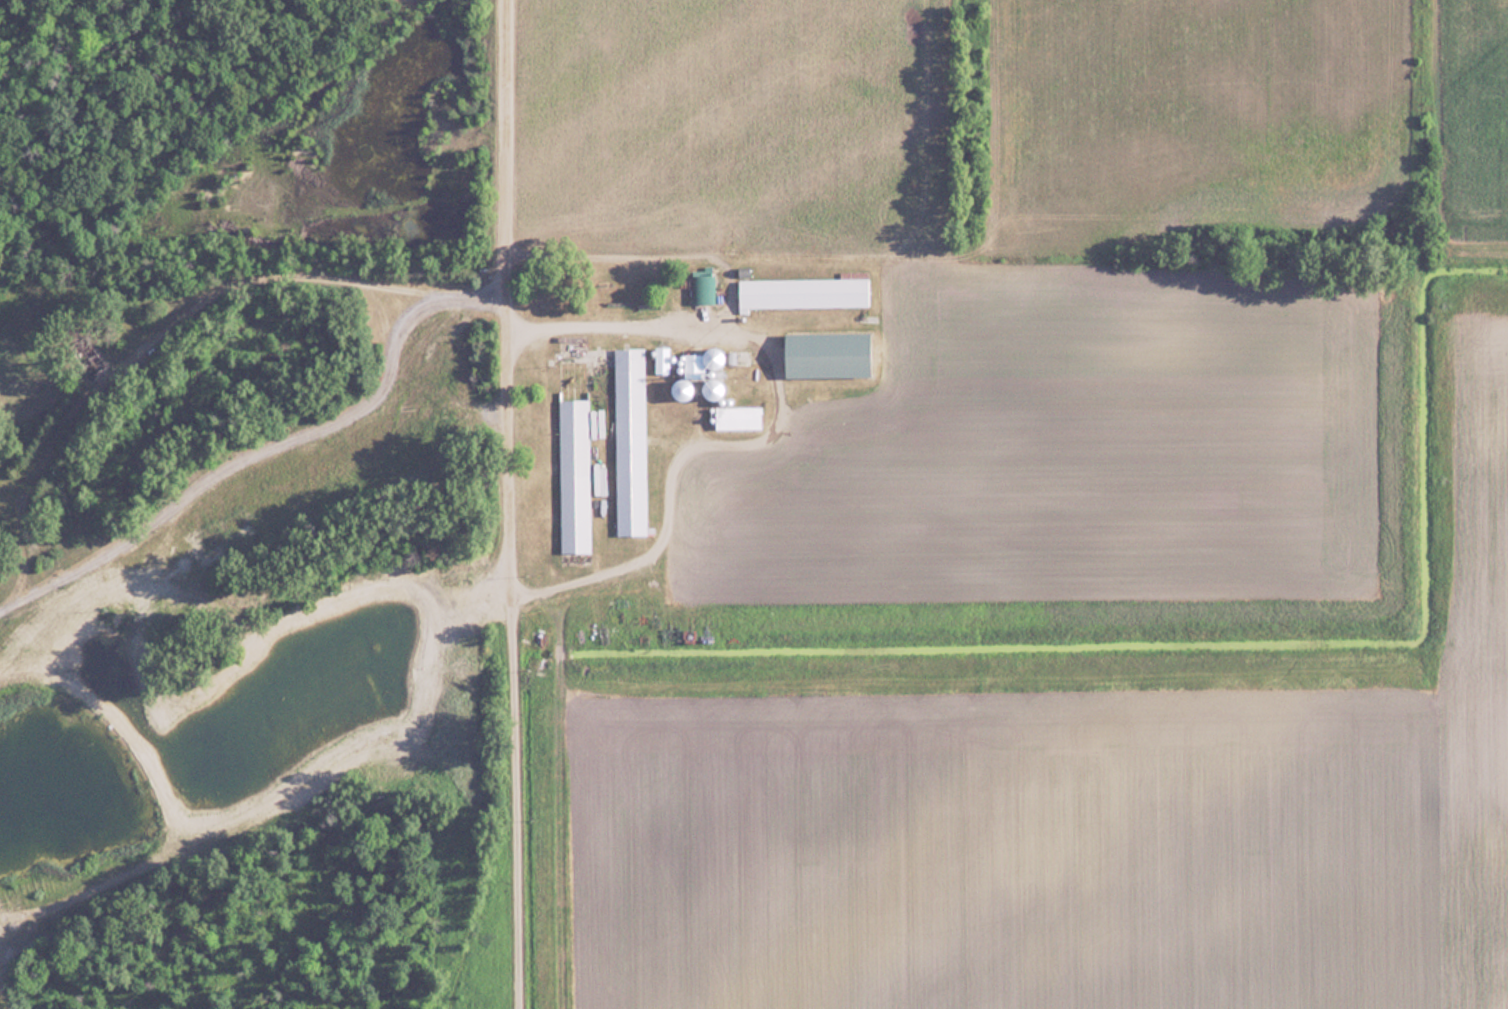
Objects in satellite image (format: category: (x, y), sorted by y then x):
building: (702, 288)
building: (803, 292)
building: (829, 354)
building: (662, 360)
building: (692, 365)
building: (715, 388)
building: (684, 389)
building: (739, 417)
road: (268, 441)
building: (630, 441)
building: (574, 475)
road: (507, 504)

